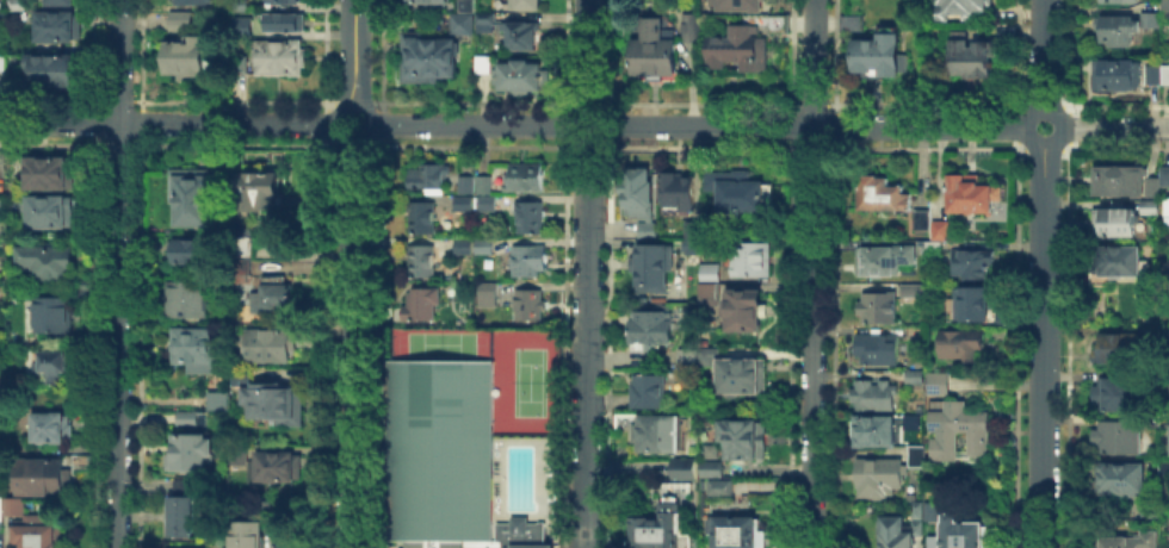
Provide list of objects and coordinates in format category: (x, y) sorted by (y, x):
building: (425, 0)
building: (56, 1)
building: (291, 1)
building: (1118, 1)
building: (191, 2)
building: (16, 4)
building: (522, 4)
building: (736, 4)
building: (464, 5)
building: (967, 7)
building: (1168, 11)
building: (2, 13)
building: (748, 15)
building: (777, 19)
building: (460, 21)
building: (846, 21)
building: (245, 23)
building: (1155, 23)
building: (56, 24)
building: (190, 24)
building: (689, 24)
building: (286, 25)
building: (508, 29)
building: (1117, 33)
building: (1009, 36)
building: (737, 45)
building: (1157, 46)
building: (654, 48)
road: (1041, 51)
road: (354, 54)
building: (425, 55)
building: (883, 55)
building: (2, 60)
building: (188, 60)
building: (282, 60)
building: (975, 61)
building: (481, 62)
building: (50, 70)
building: (1156, 73)
building: (518, 74)
building: (1124, 76)
road: (168, 123)
road: (1063, 124)
road: (1019, 125)
road: (1115, 125)
road: (695, 126)
road: (339, 133)
building: (423, 174)
building: (1163, 174)
building: (54, 175)
building: (522, 175)
building: (1117, 178)
building: (463, 182)
building: (482, 182)
building: (1151, 185)
building: (735, 186)
building: (676, 187)
building: (259, 189)
building: (637, 191)
building: (969, 191)
building: (879, 192)
building: (191, 193)
building: (462, 201)
building: (484, 201)
building: (2, 204)
building: (1164, 204)
building: (1151, 205)
building: (51, 213)
building: (417, 214)
building: (527, 216)
building: (706, 217)
building: (920, 217)
building: (1114, 218)
building: (688, 226)
building: (645, 228)
building: (939, 228)
building: (241, 239)
building: (482, 243)
building: (688, 243)
building: (462, 244)
building: (932, 245)
building: (193, 250)
building: (883, 255)
building: (749, 256)
building: (47, 259)
building: (525, 260)
building: (417, 261)
building: (1113, 261)
building: (971, 262)
building: (240, 264)
building: (650, 264)
building: (151, 269)
building: (709, 270)
building: (1164, 273)
road: (117, 274)
road: (586, 274)
road: (814, 274)
building: (81, 282)
building: (1162, 284)
building: (911, 288)
building: (485, 292)
building: (709, 292)
building: (81, 293)
building: (271, 294)
building: (185, 298)
building: (420, 301)
building: (526, 301)
building: (972, 301)
building: (877, 305)
building: (742, 307)
building: (51, 312)
building: (1002, 316)
building: (648, 326)
building: (1002, 328)
building: (1148, 330)
building: (1168, 331)
building: (274, 342)
building: (959, 342)
park: (440, 343)
road: (352, 344)
building: (1117, 345)
building: (194, 347)
building: (876, 347)
road: (1040, 347)
building: (80, 354)
building: (707, 354)
building: (687, 356)
building: (51, 365)
building: (740, 373)
building: (1163, 374)
building: (913, 375)
building: (1149, 375)
building: (242, 378)
park: (525, 380)
building: (936, 381)
building: (647, 390)
building: (872, 392)
building: (1115, 393)
building: (217, 398)
building: (274, 400)
building: (186, 416)
building: (216, 419)
building: (1162, 419)
building: (1152, 421)
building: (955, 426)
building: (874, 428)
building: (652, 429)
building: (55, 430)
building: (1117, 435)
building: (743, 436)
building: (1168, 437)
building: (711, 448)
building: (190, 450)
building: (237, 453)
building: (916, 454)
building: (80, 457)
building: (447, 459)
building: (1163, 463)
building: (277, 465)
building: (682, 466)
building: (711, 466)
building: (39, 474)
building: (878, 474)
building: (1119, 477)
building: (719, 485)
building: (266, 503)
building: (13, 504)
building: (179, 506)
building: (916, 507)
building: (1164, 507)
building: (930, 509)
building: (1146, 510)
building: (1, 511)
building: (917, 525)
building: (660, 527)
building: (37, 530)
building: (736, 531)
building: (896, 531)
building: (248, 533)
building: (960, 533)
building: (1130, 538)
building: (291, 540)
building: (185, 547)

